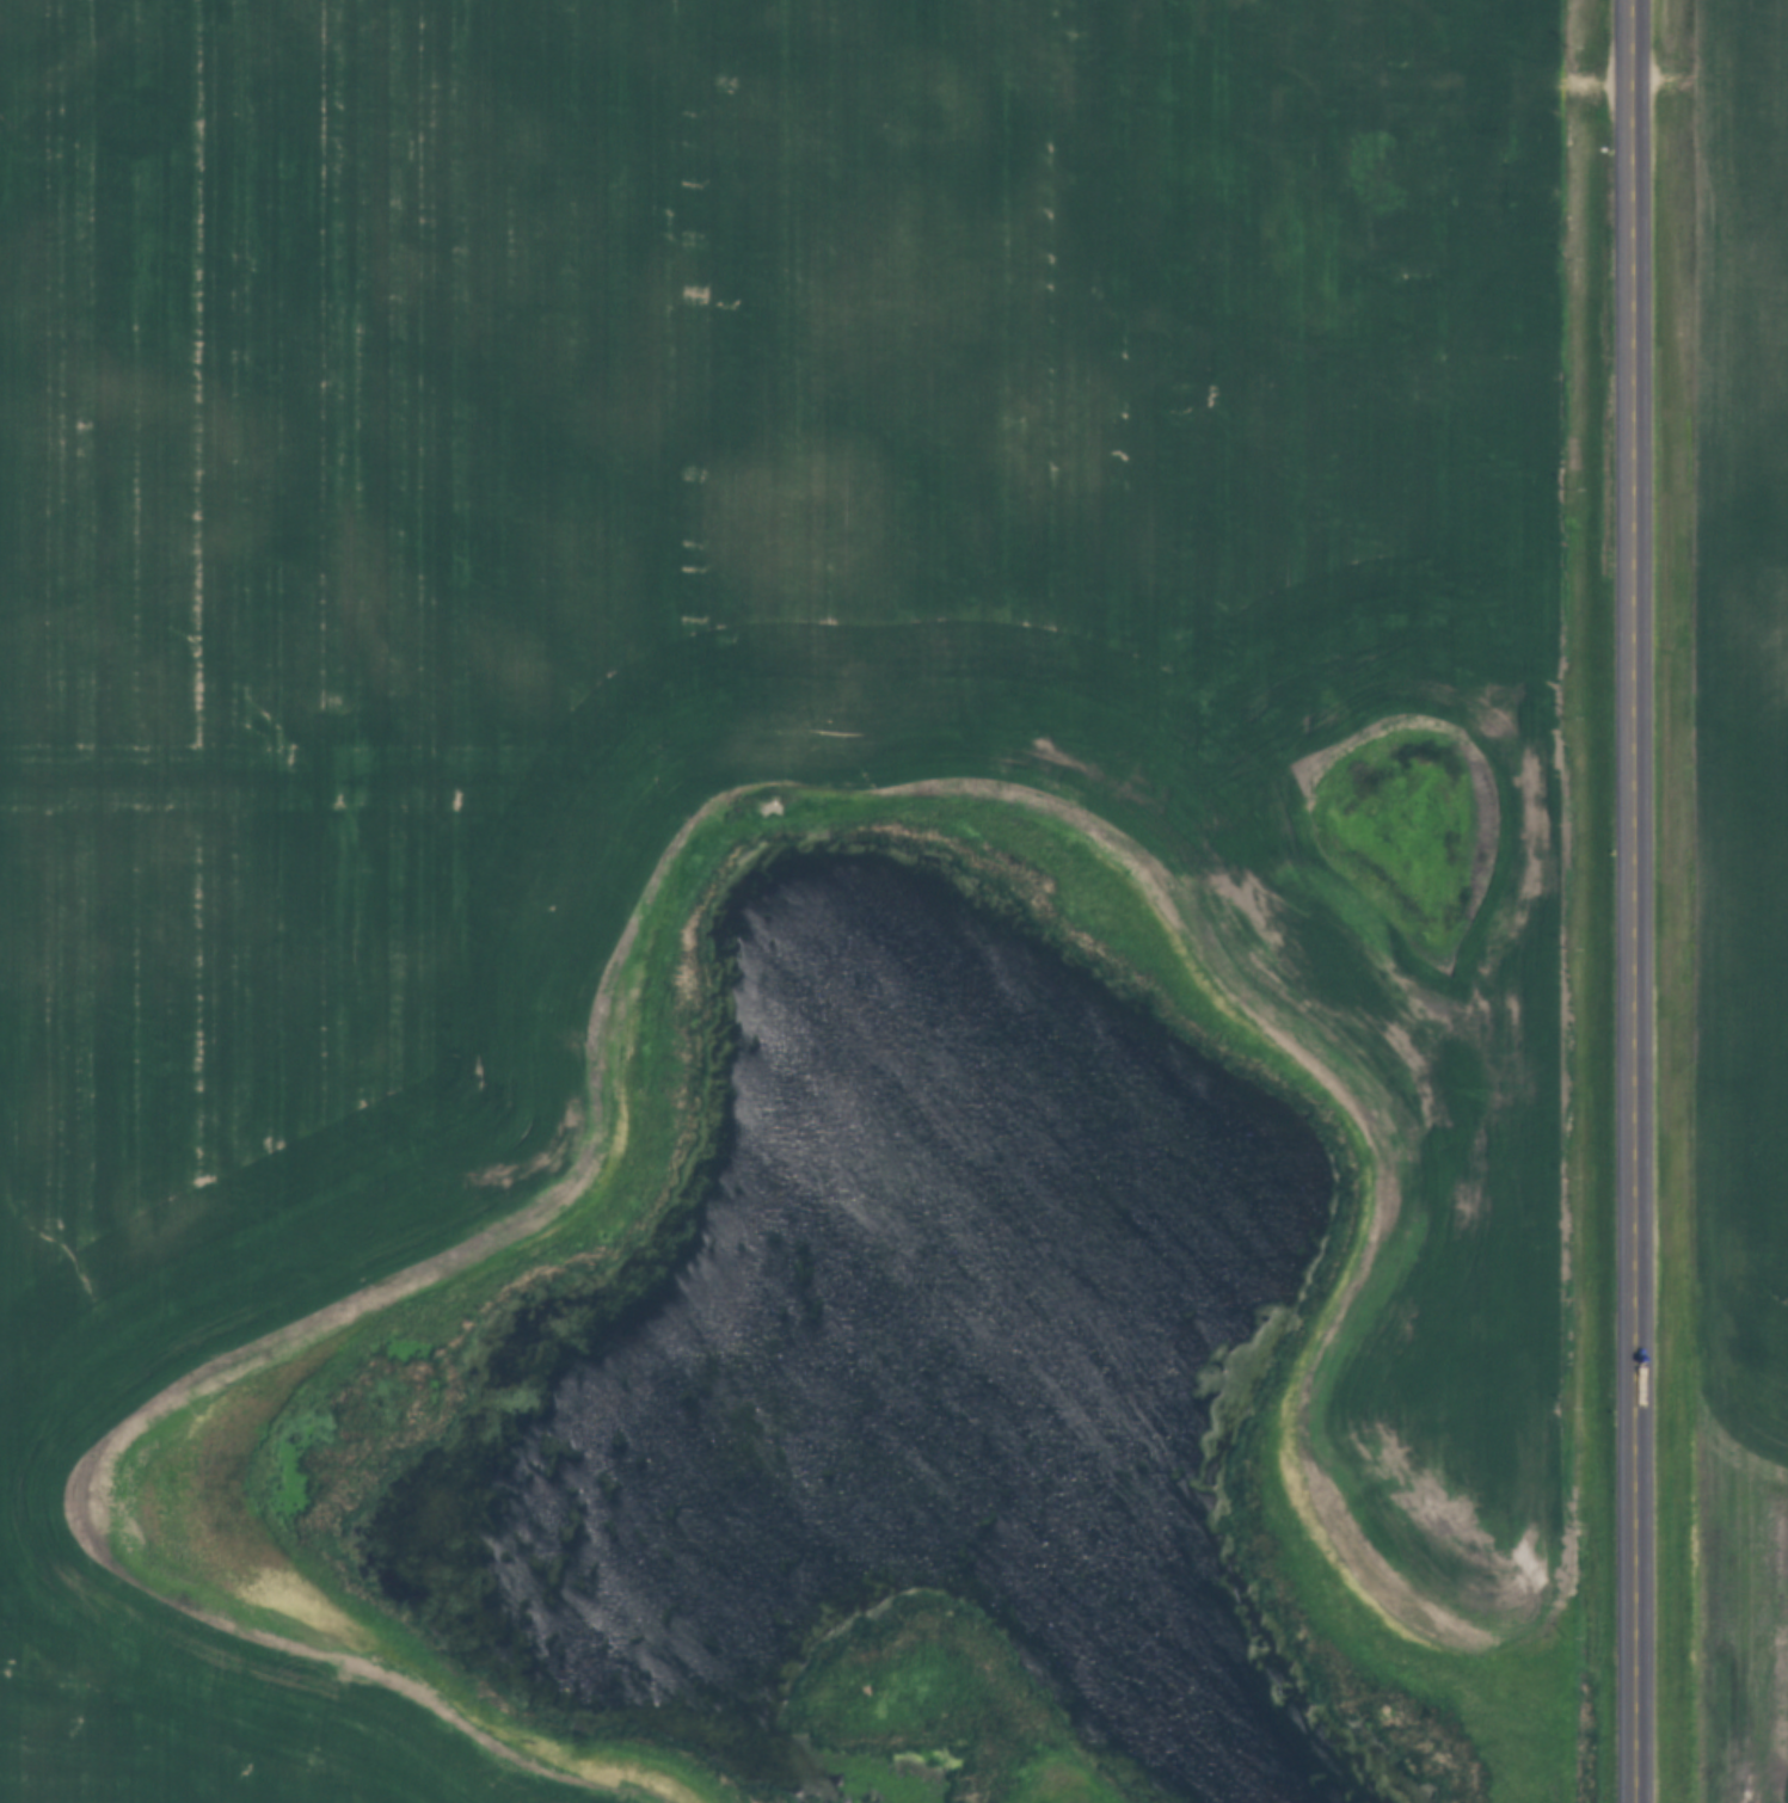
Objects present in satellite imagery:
road: (1489, 94)
building: (1414, 259)
road: (1634, 901)

